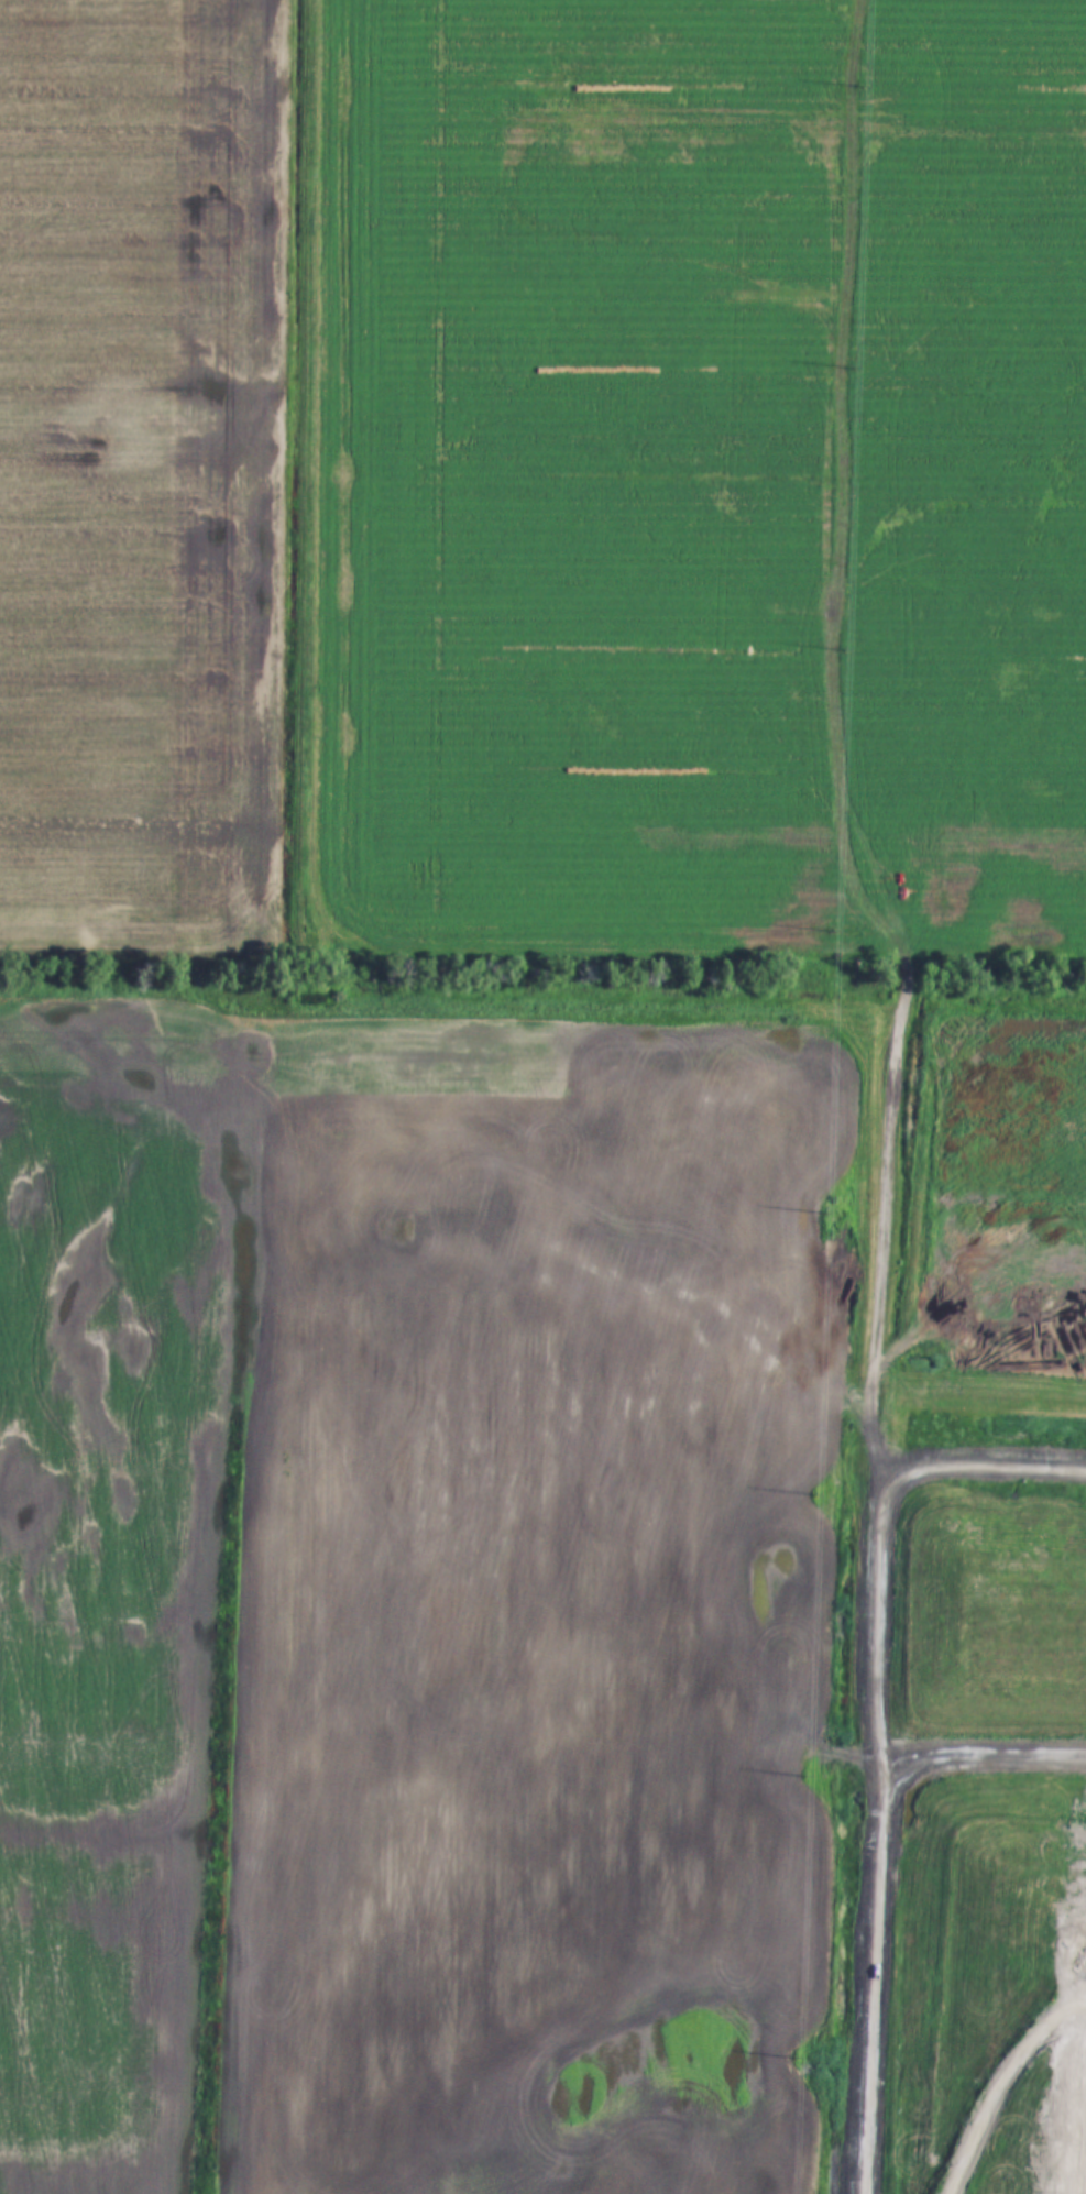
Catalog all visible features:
crop: (144, 478)
crop: (688, 484)
crop: (106, 1550)
crop: (540, 1579)
road: (881, 1745)

